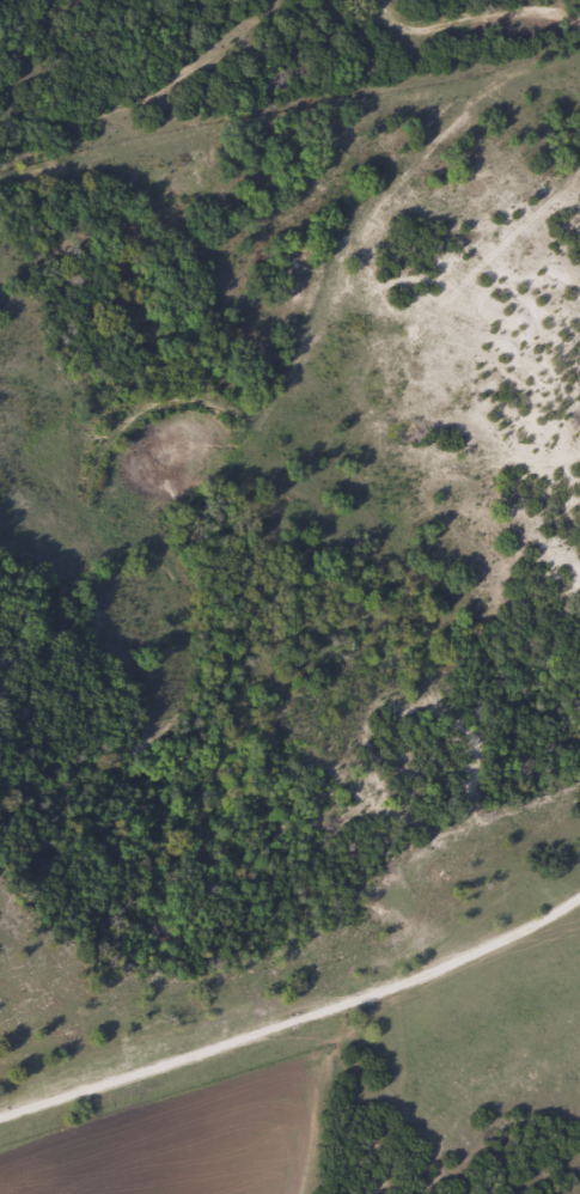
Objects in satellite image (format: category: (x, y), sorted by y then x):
road: (298, 991)

